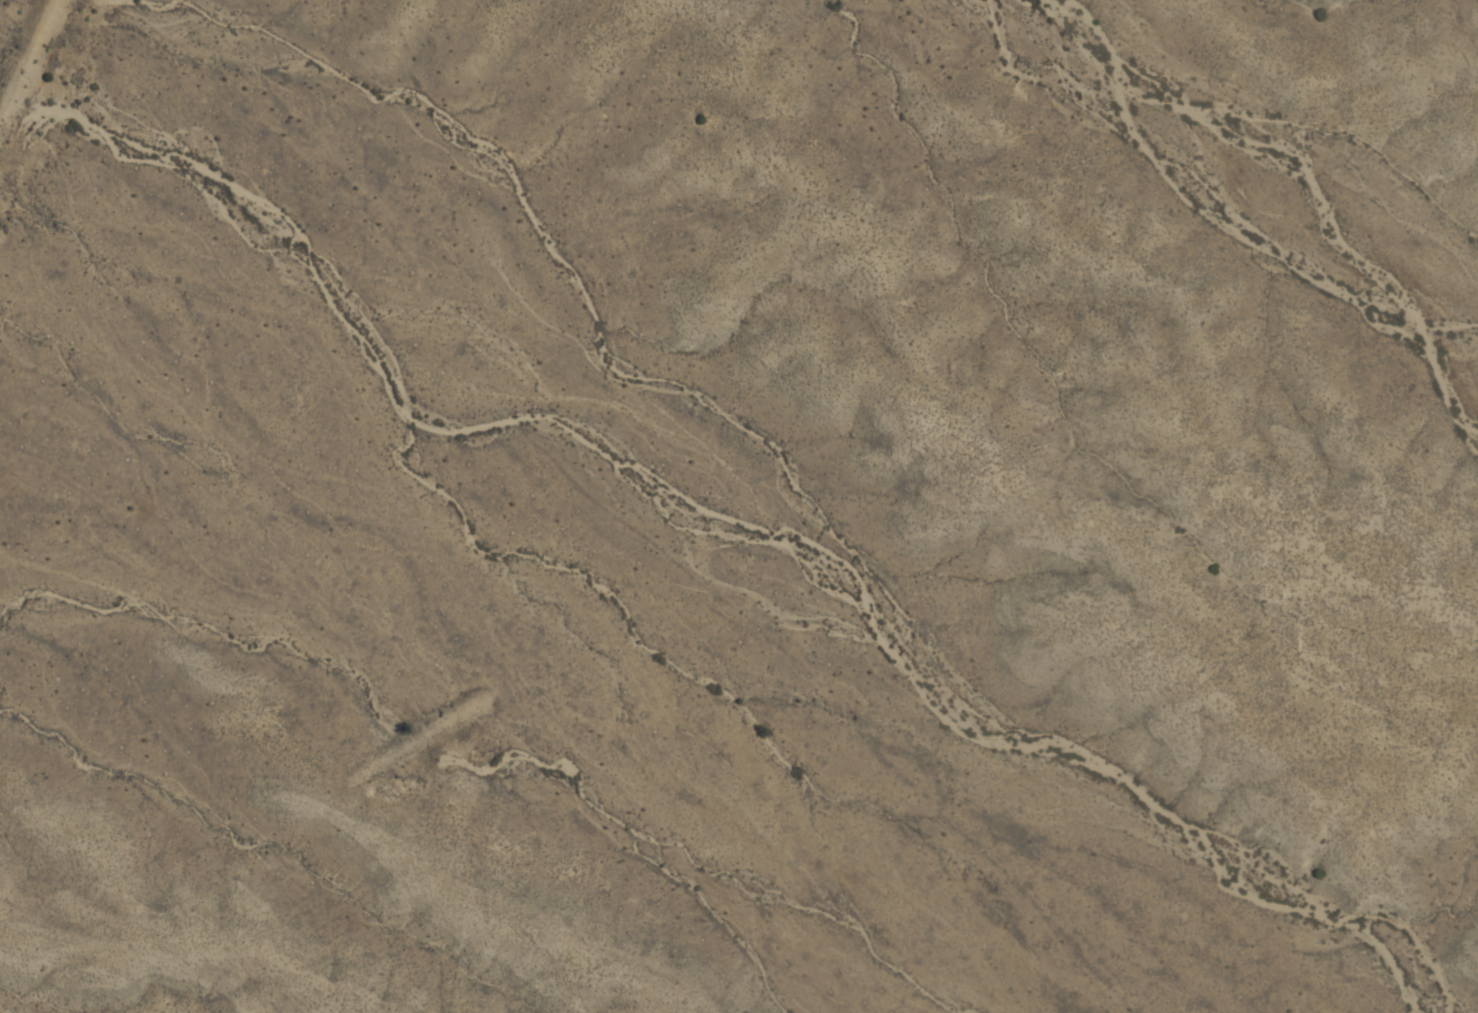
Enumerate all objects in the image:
dam: (30, 72)

